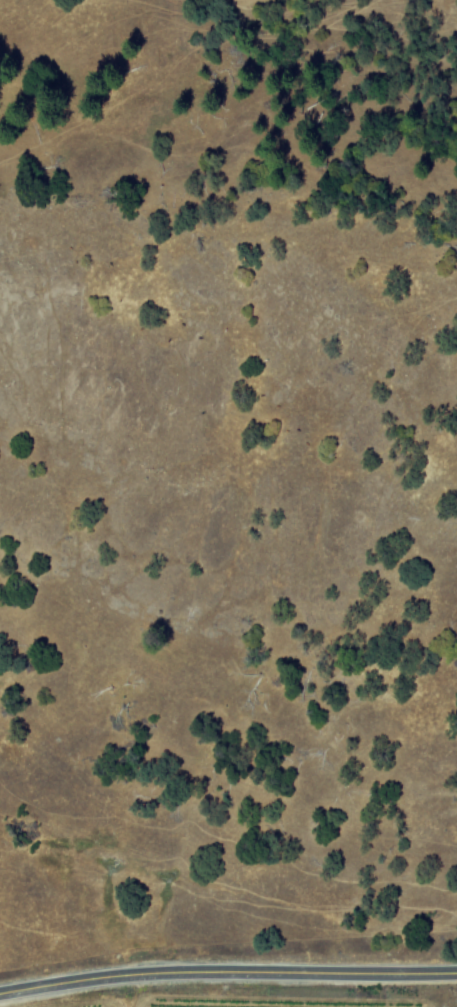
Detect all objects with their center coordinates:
road: (310, 993)

